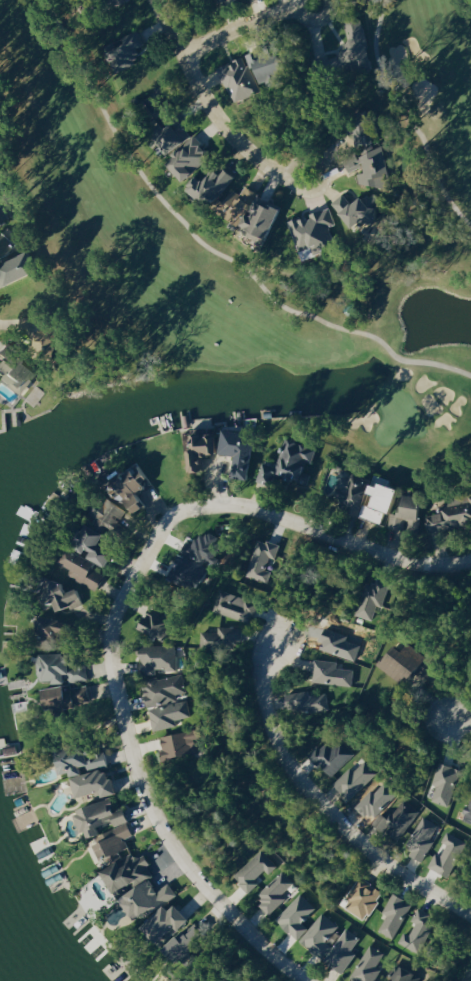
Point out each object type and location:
building: (223, 0)
road: (245, 27)
building: (358, 42)
building: (131, 48)
building: (269, 63)
building: (327, 63)
road: (213, 113)
building: (368, 135)
building: (186, 148)
building: (370, 168)
building: (214, 185)
building: (241, 205)
building: (360, 210)
building: (4, 217)
building: (266, 218)
building: (316, 231)
building: (7, 247)
park: (153, 251)
building: (21, 268)
building: (44, 330)
building: (18, 369)
building: (203, 449)
building: (242, 449)
building: (293, 464)
building: (137, 485)
building: (371, 497)
building: (411, 511)
building: (110, 514)
building: (452, 517)
building: (98, 544)
road: (357, 546)
building: (198, 557)
building: (263, 560)
building: (83, 568)
building: (65, 594)
building: (236, 606)
building: (157, 623)
building: (56, 625)
road: (404, 630)
building: (222, 637)
building: (159, 657)
building: (413, 666)
building: (61, 668)
building: (333, 673)
road: (446, 679)
building: (68, 697)
building: (166, 700)
building: (308, 703)
road: (457, 728)
road: (128, 734)
building: (181, 743)
building: (334, 755)
building: (89, 769)
building: (356, 779)
building: (446, 783)
road: (319, 802)
building: (468, 811)
building: (402, 818)
building: (108, 827)
building: (423, 838)
building: (449, 854)
building: (255, 870)
building: (130, 871)
building: (275, 892)
building: (150, 898)
building: (363, 898)
building: (395, 914)
building: (297, 916)
building: (169, 921)
building: (419, 931)
building: (317, 943)
building: (189, 944)
building: (369, 965)
road: (467, 971)
building: (402, 974)

